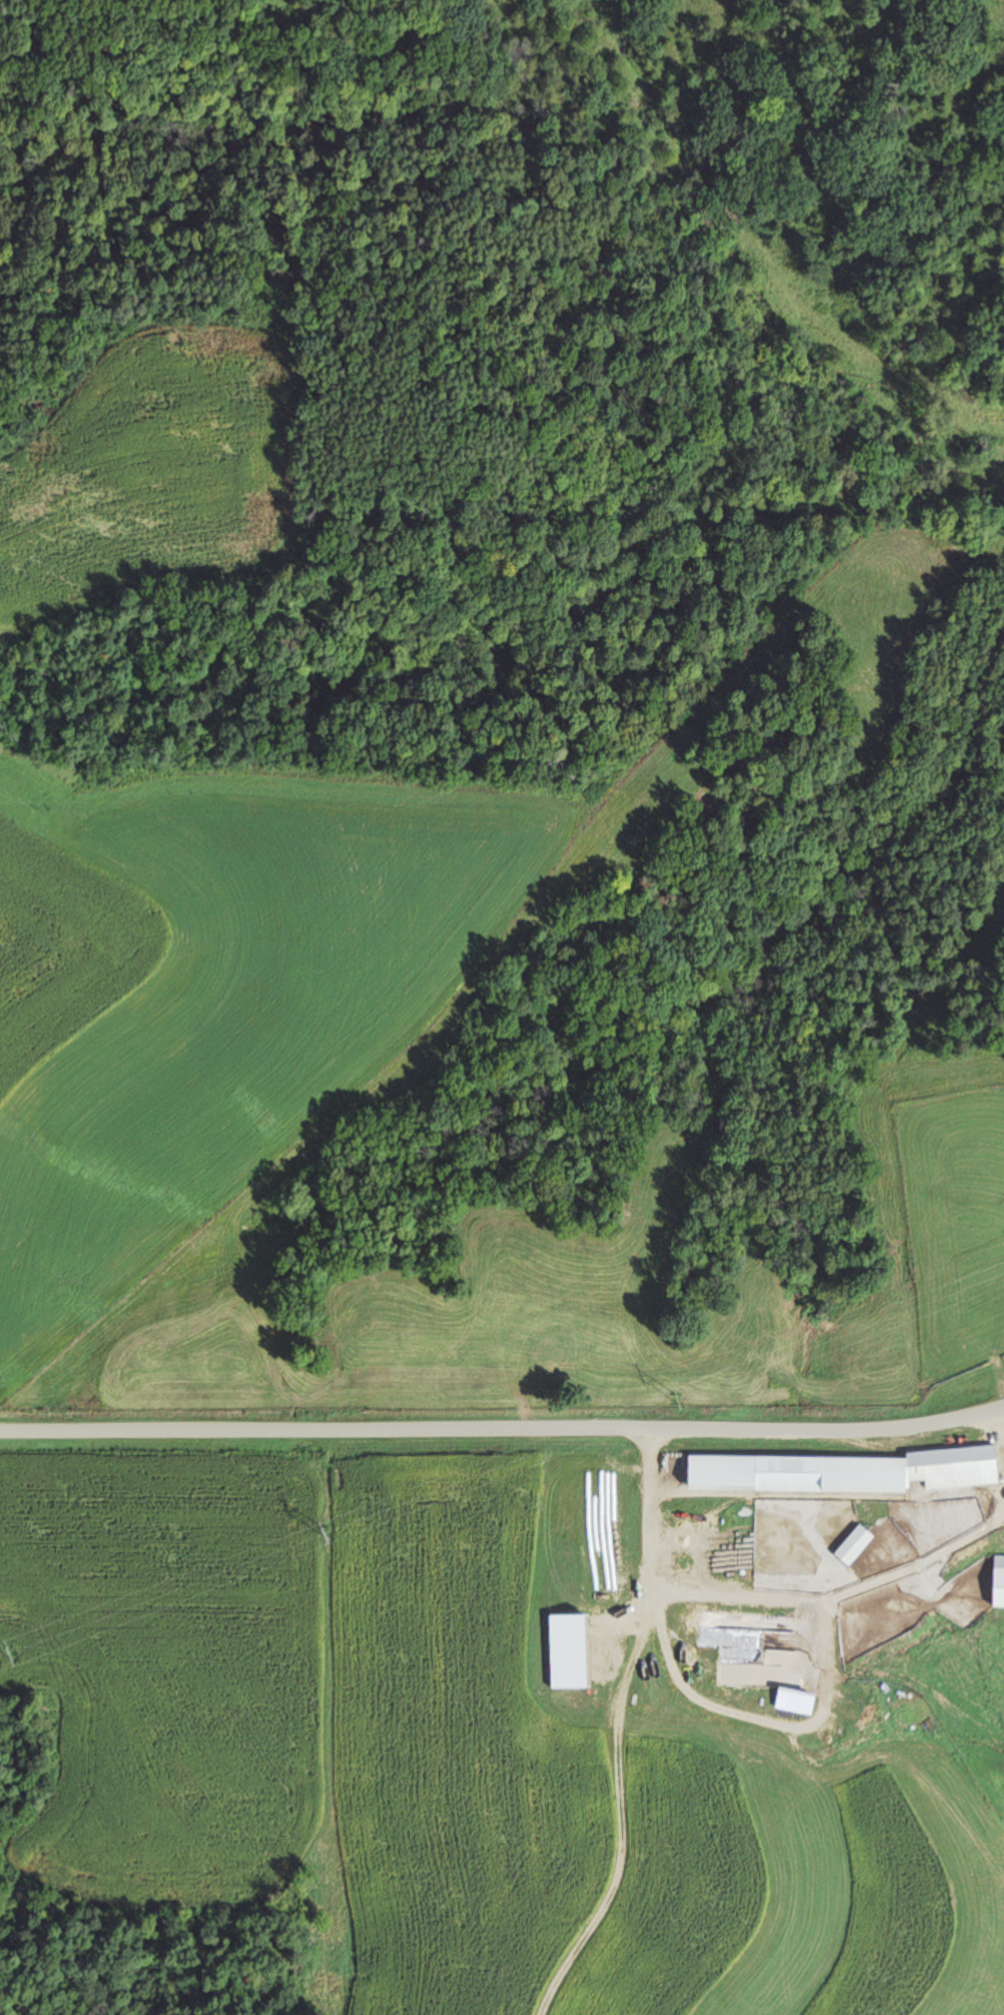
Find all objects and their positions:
power tower: (676, 1397)
road: (994, 1413)
road: (505, 1431)
building: (950, 1472)
building: (785, 1478)
power tower: (325, 1531)
building: (851, 1544)
building: (997, 1581)
road: (771, 1597)
building: (788, 1626)
power tower: (10, 1652)

